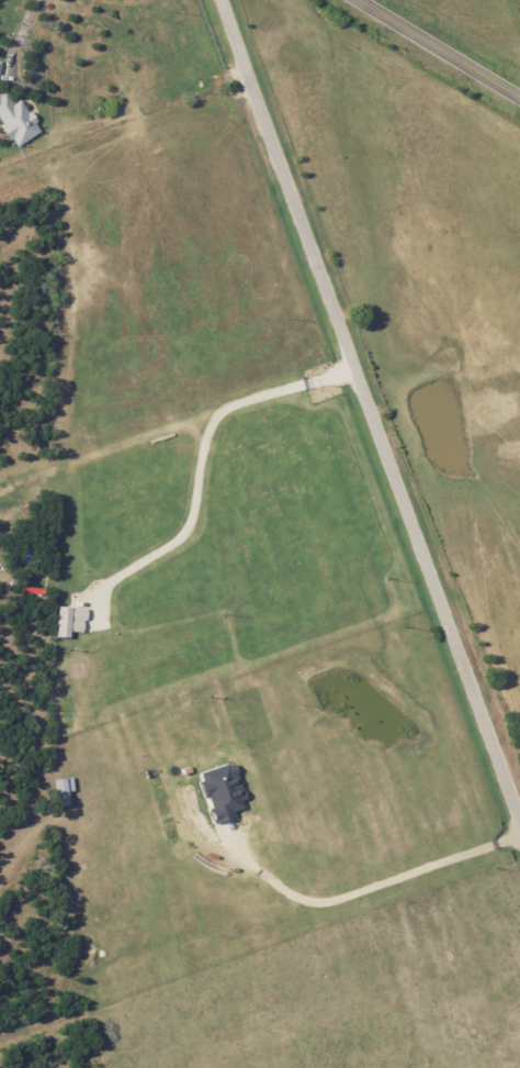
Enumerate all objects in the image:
road: (439, 48)
building: (0, 62)
building: (15, 120)
road: (371, 407)
road: (205, 449)
building: (68, 619)
building: (221, 790)
road: (351, 895)

